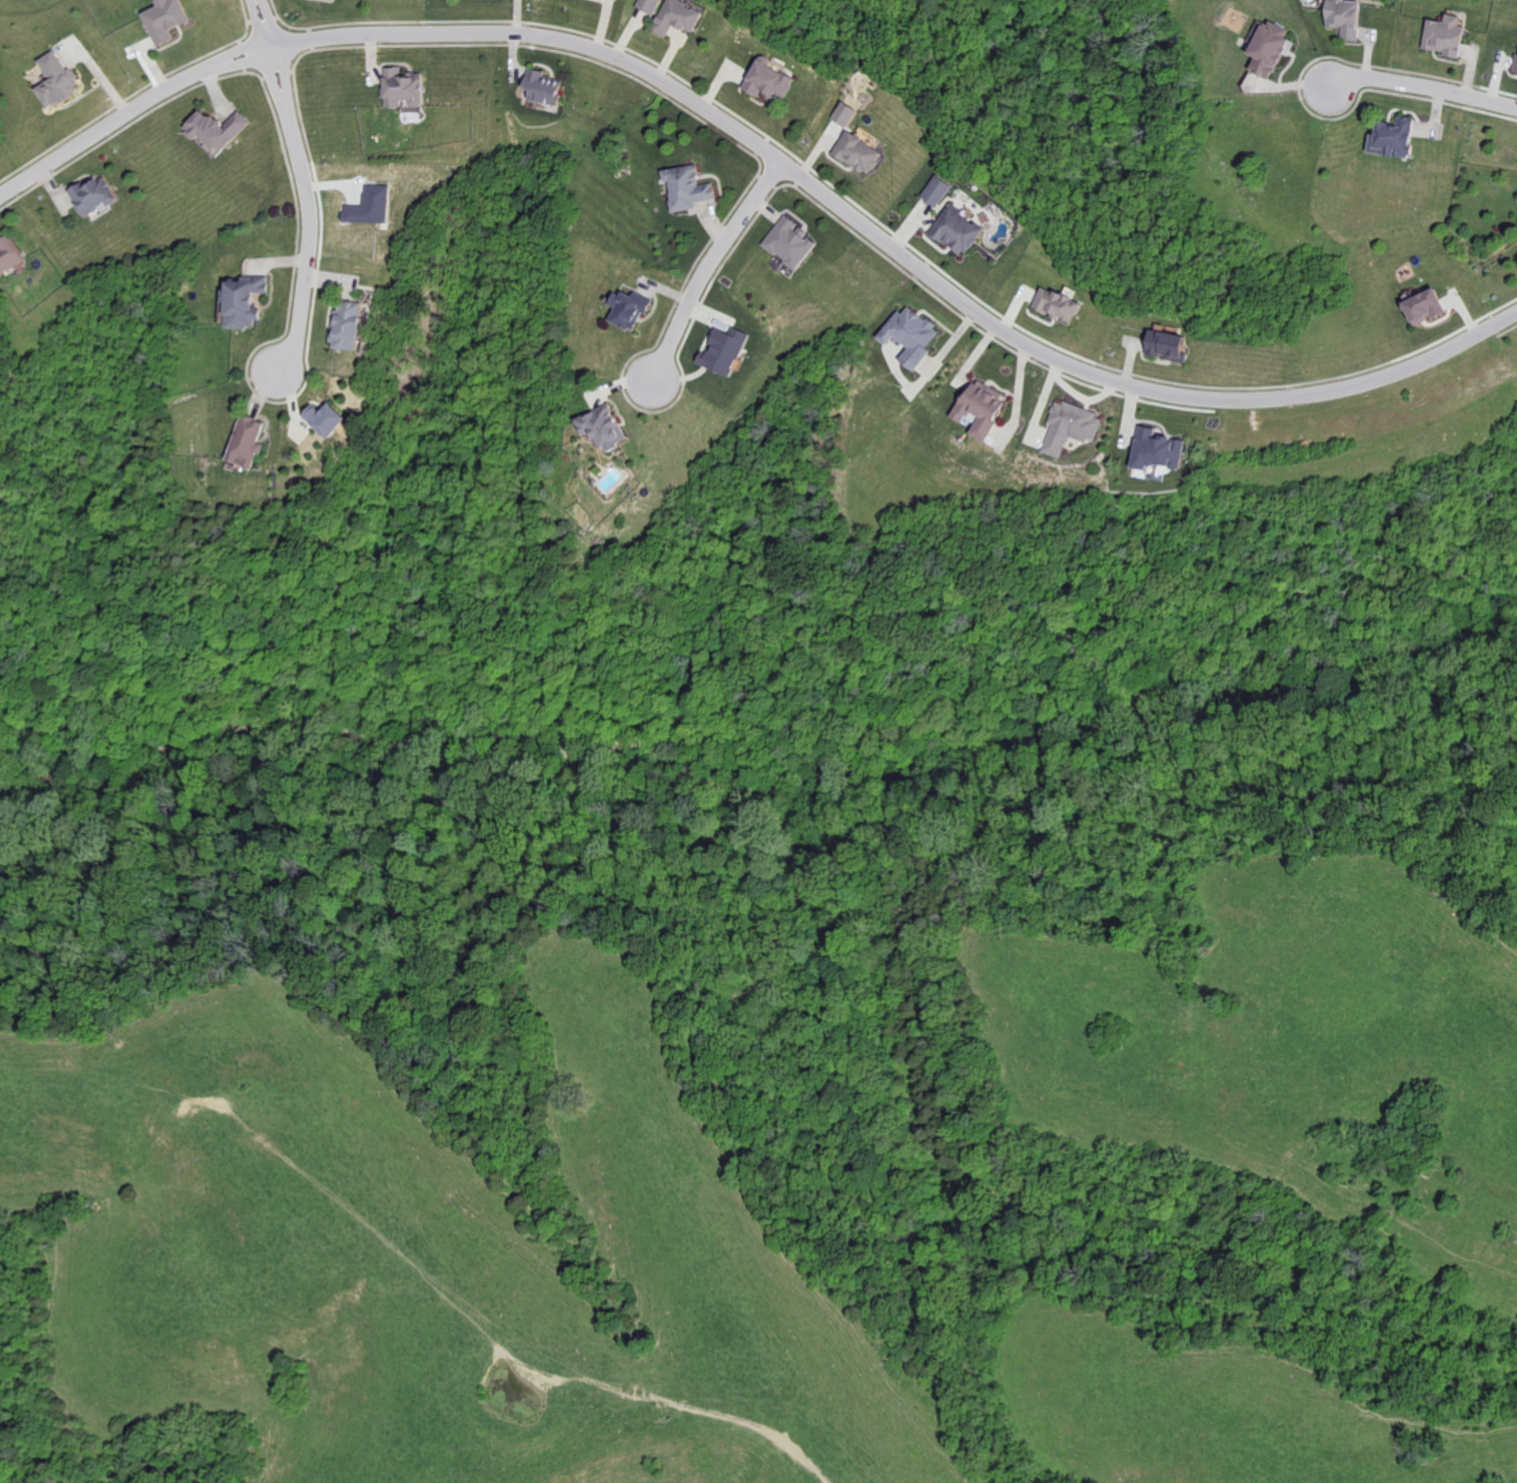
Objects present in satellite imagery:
building: (648, 5)
building: (1344, 16)
building: (676, 17)
building: (162, 19)
road: (269, 21)
road: (256, 26)
building: (1444, 35)
road: (545, 39)
building: (1268, 47)
road: (237, 50)
road: (241, 61)
building: (1515, 65)
building: (53, 79)
building: (767, 79)
building: (540, 86)
building: (400, 87)
road: (1425, 91)
road: (288, 99)
road: (280, 104)
building: (843, 114)
building: (213, 128)
road: (99, 129)
building: (1391, 137)
building: (856, 152)
building: (685, 187)
building: (936, 190)
building: (91, 195)
building: (368, 206)
building: (955, 230)
building: (788, 242)
building: (8, 253)
road: (308, 263)
road: (712, 266)
building: (240, 301)
building: (1056, 305)
building: (1422, 305)
building: (626, 308)
building: (345, 325)
building: (909, 335)
building: (1166, 345)
building: (722, 350)
road: (1124, 384)
building: (978, 407)
building: (323, 418)
building: (601, 427)
building: (1069, 427)
building: (244, 441)
building: (1156, 450)
road: (89, 695)
road: (42, 710)
road: (816, 759)

